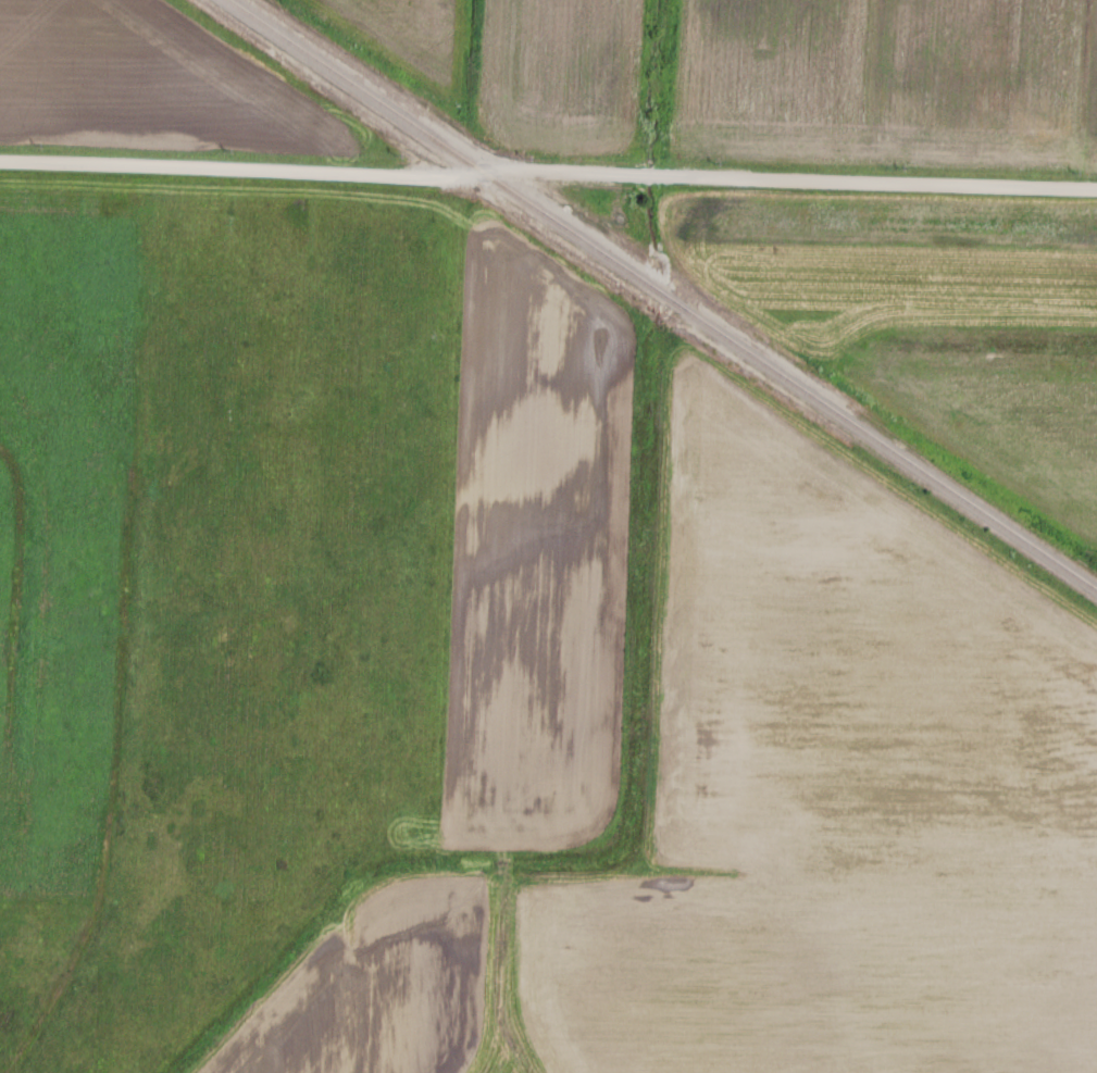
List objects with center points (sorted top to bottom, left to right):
road: (548, 170)
railway: (661, 297)

